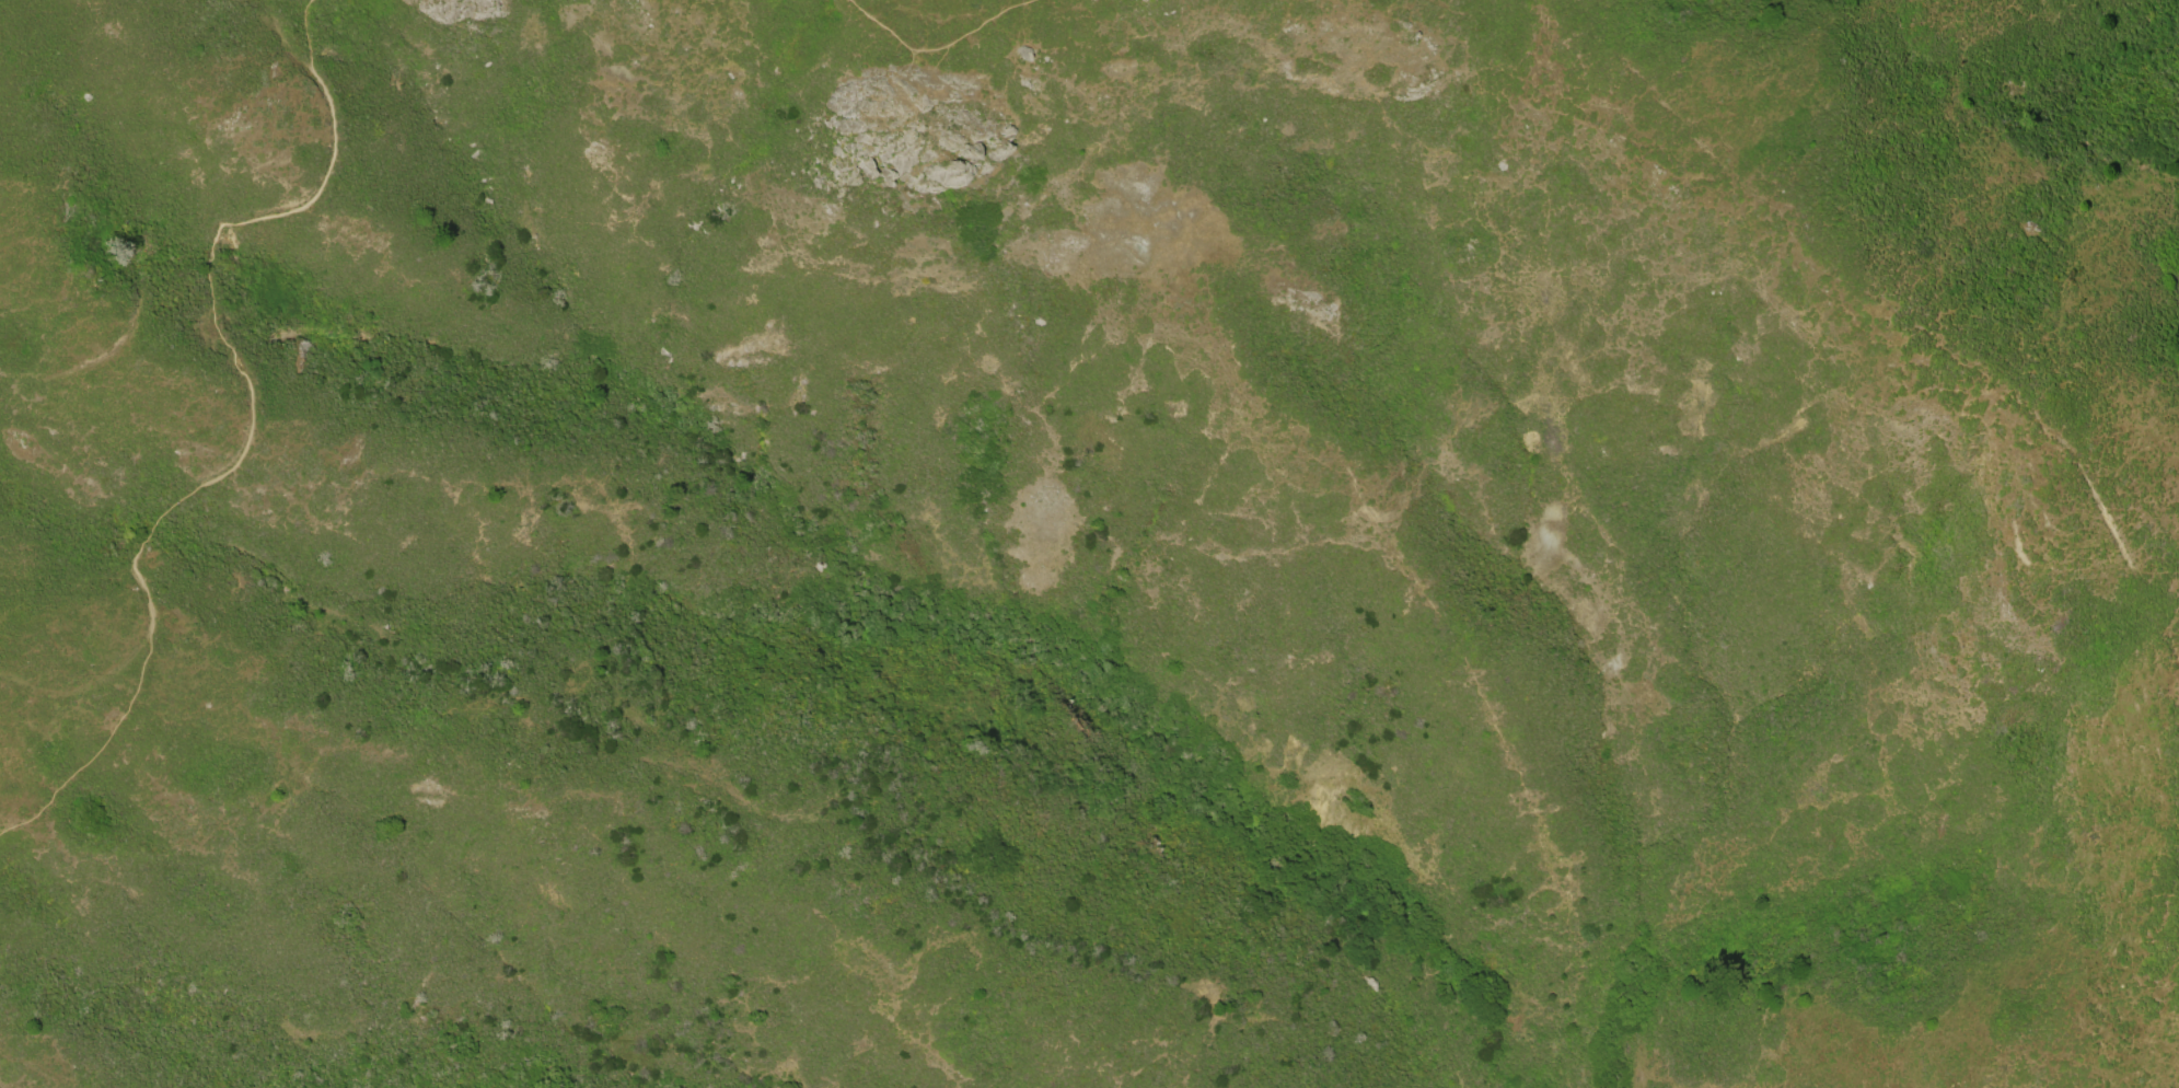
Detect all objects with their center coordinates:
road: (937, 45)
road: (248, 426)

